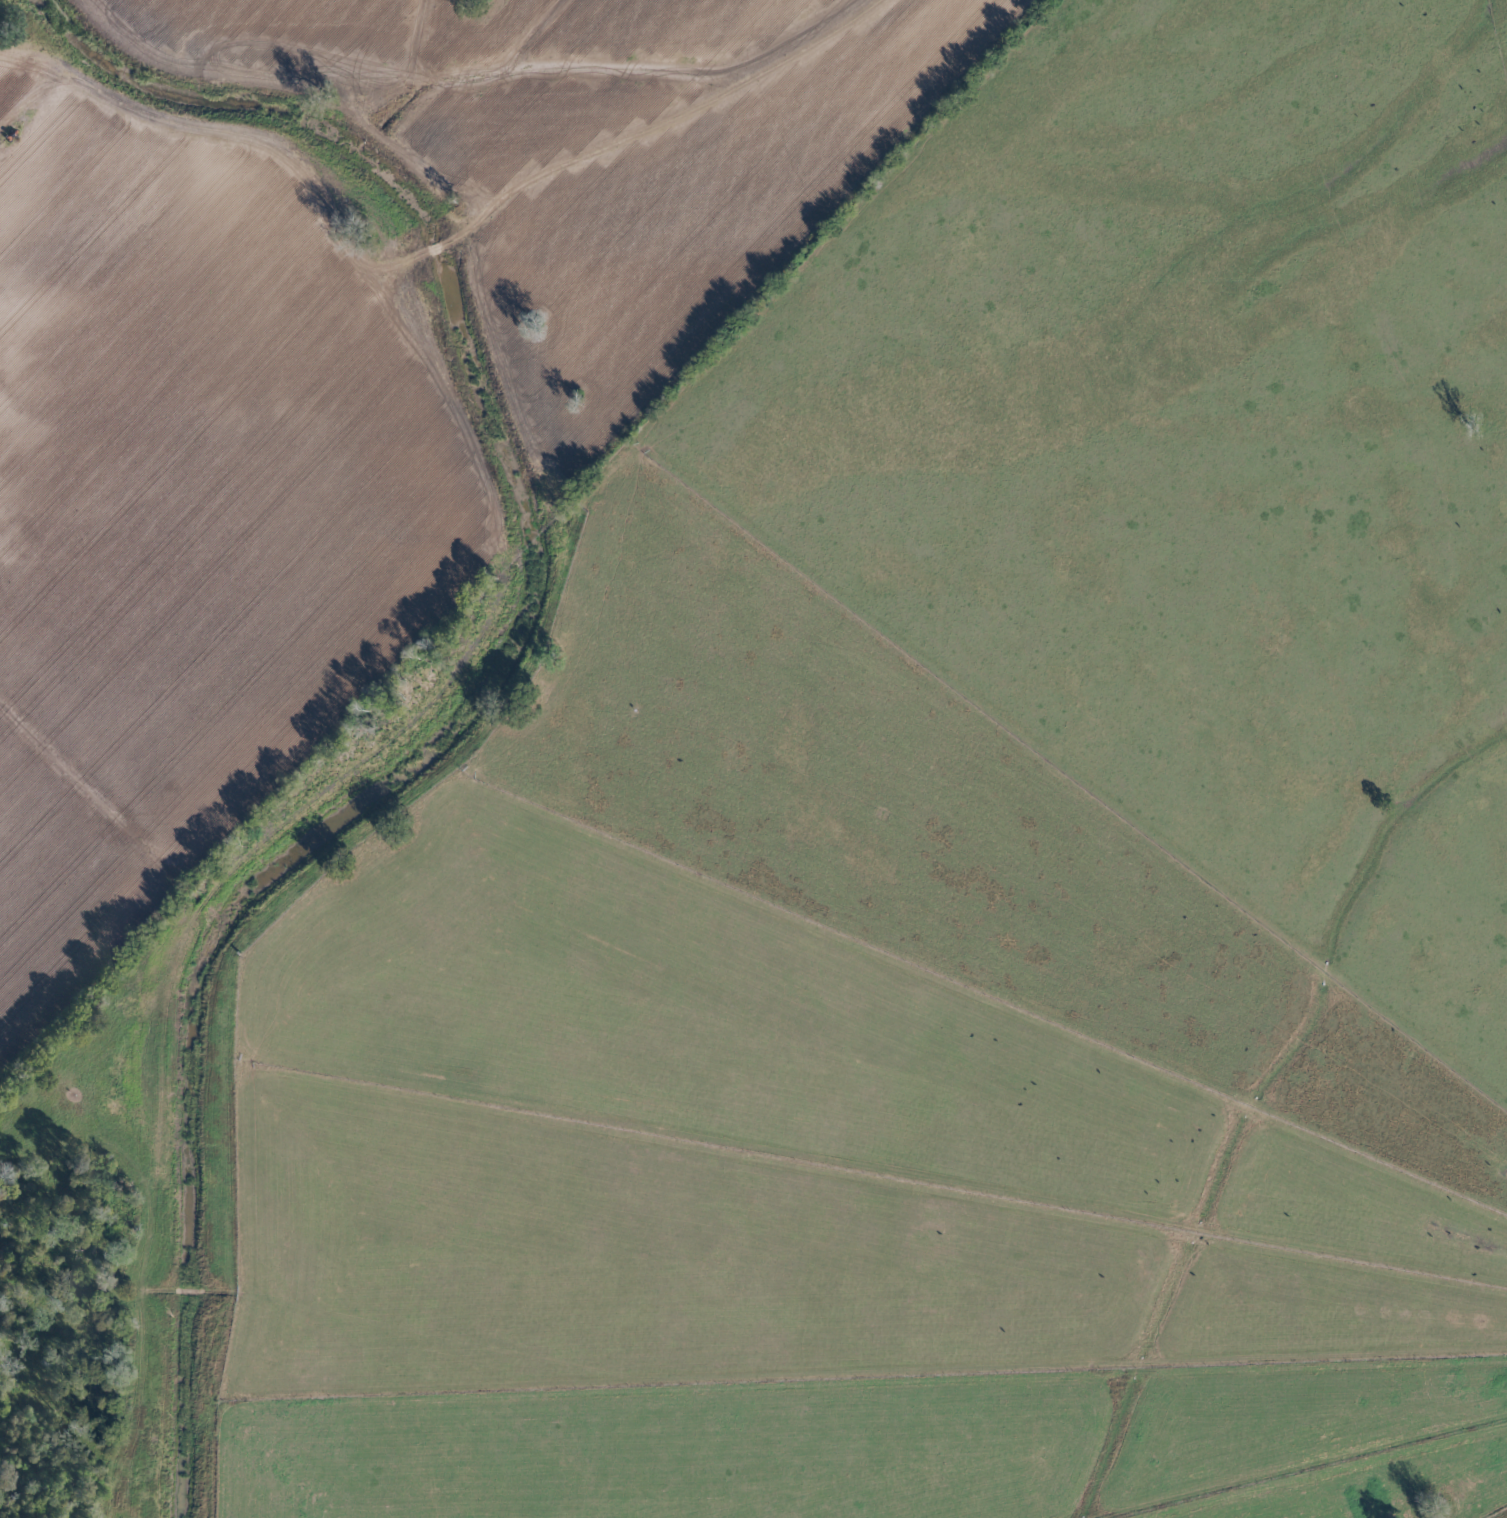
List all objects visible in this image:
road: (459, 202)

